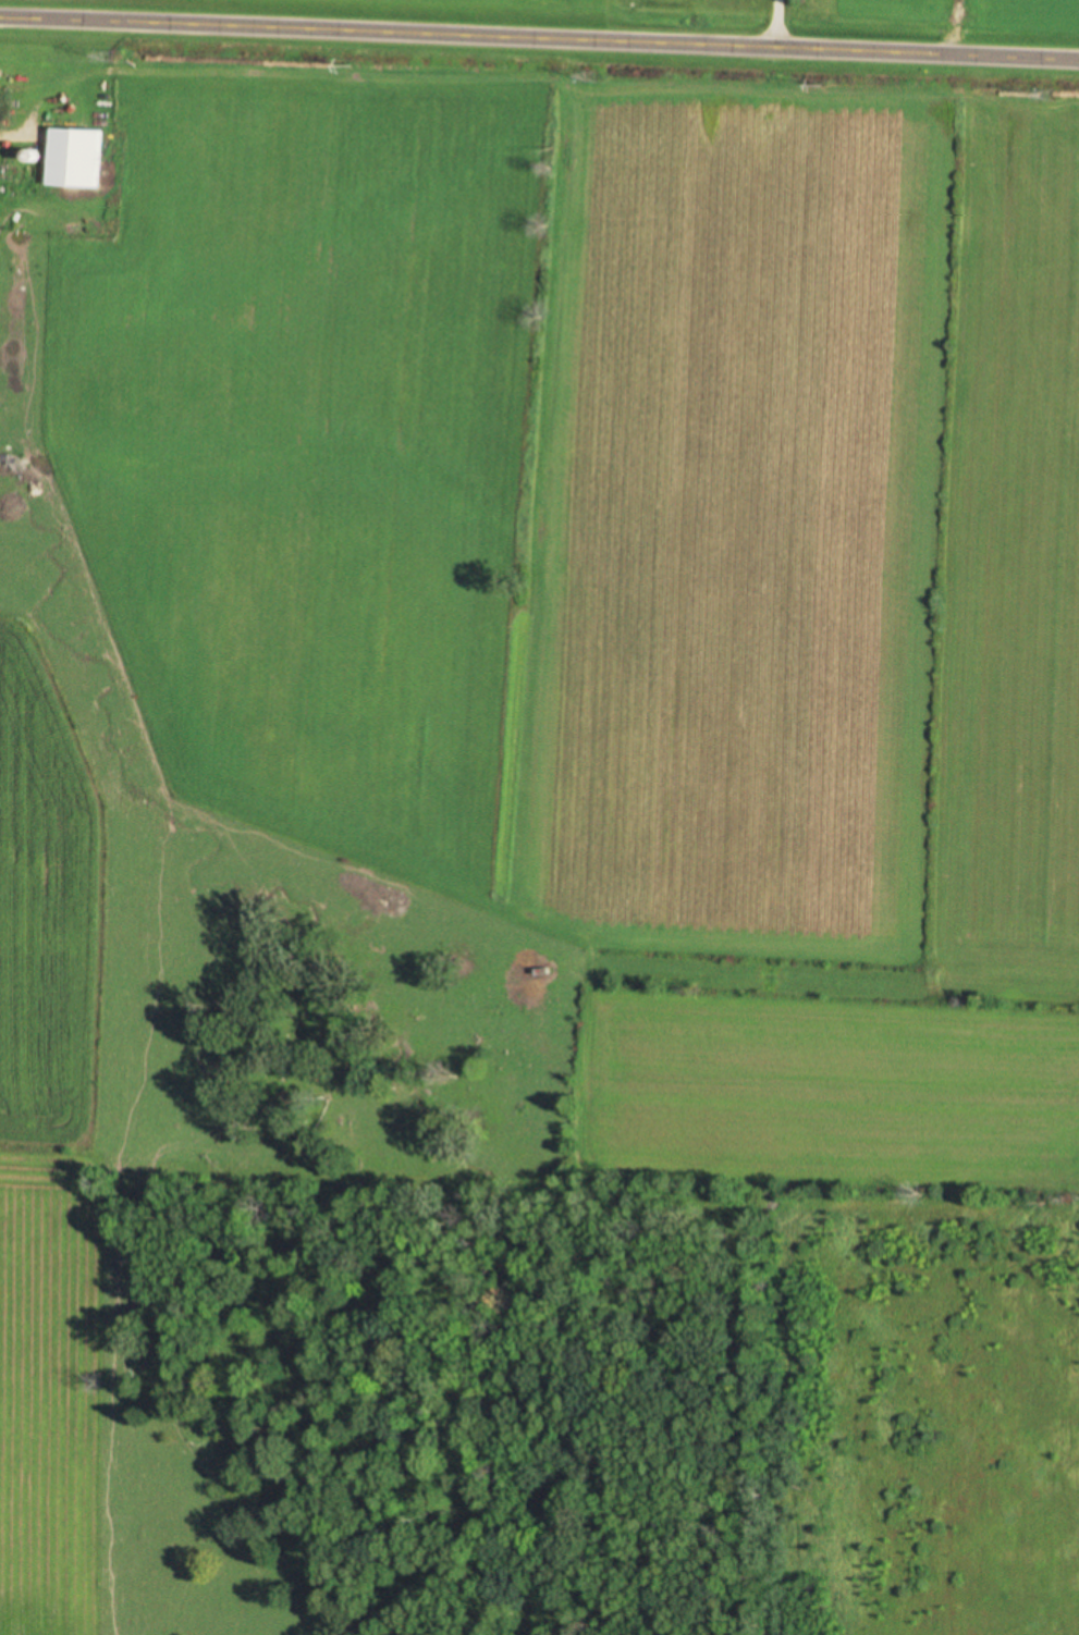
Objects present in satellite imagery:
road: (539, 38)
power tower: (105, 56)
power tower: (581, 75)
power tower: (1042, 96)
building: (71, 159)

